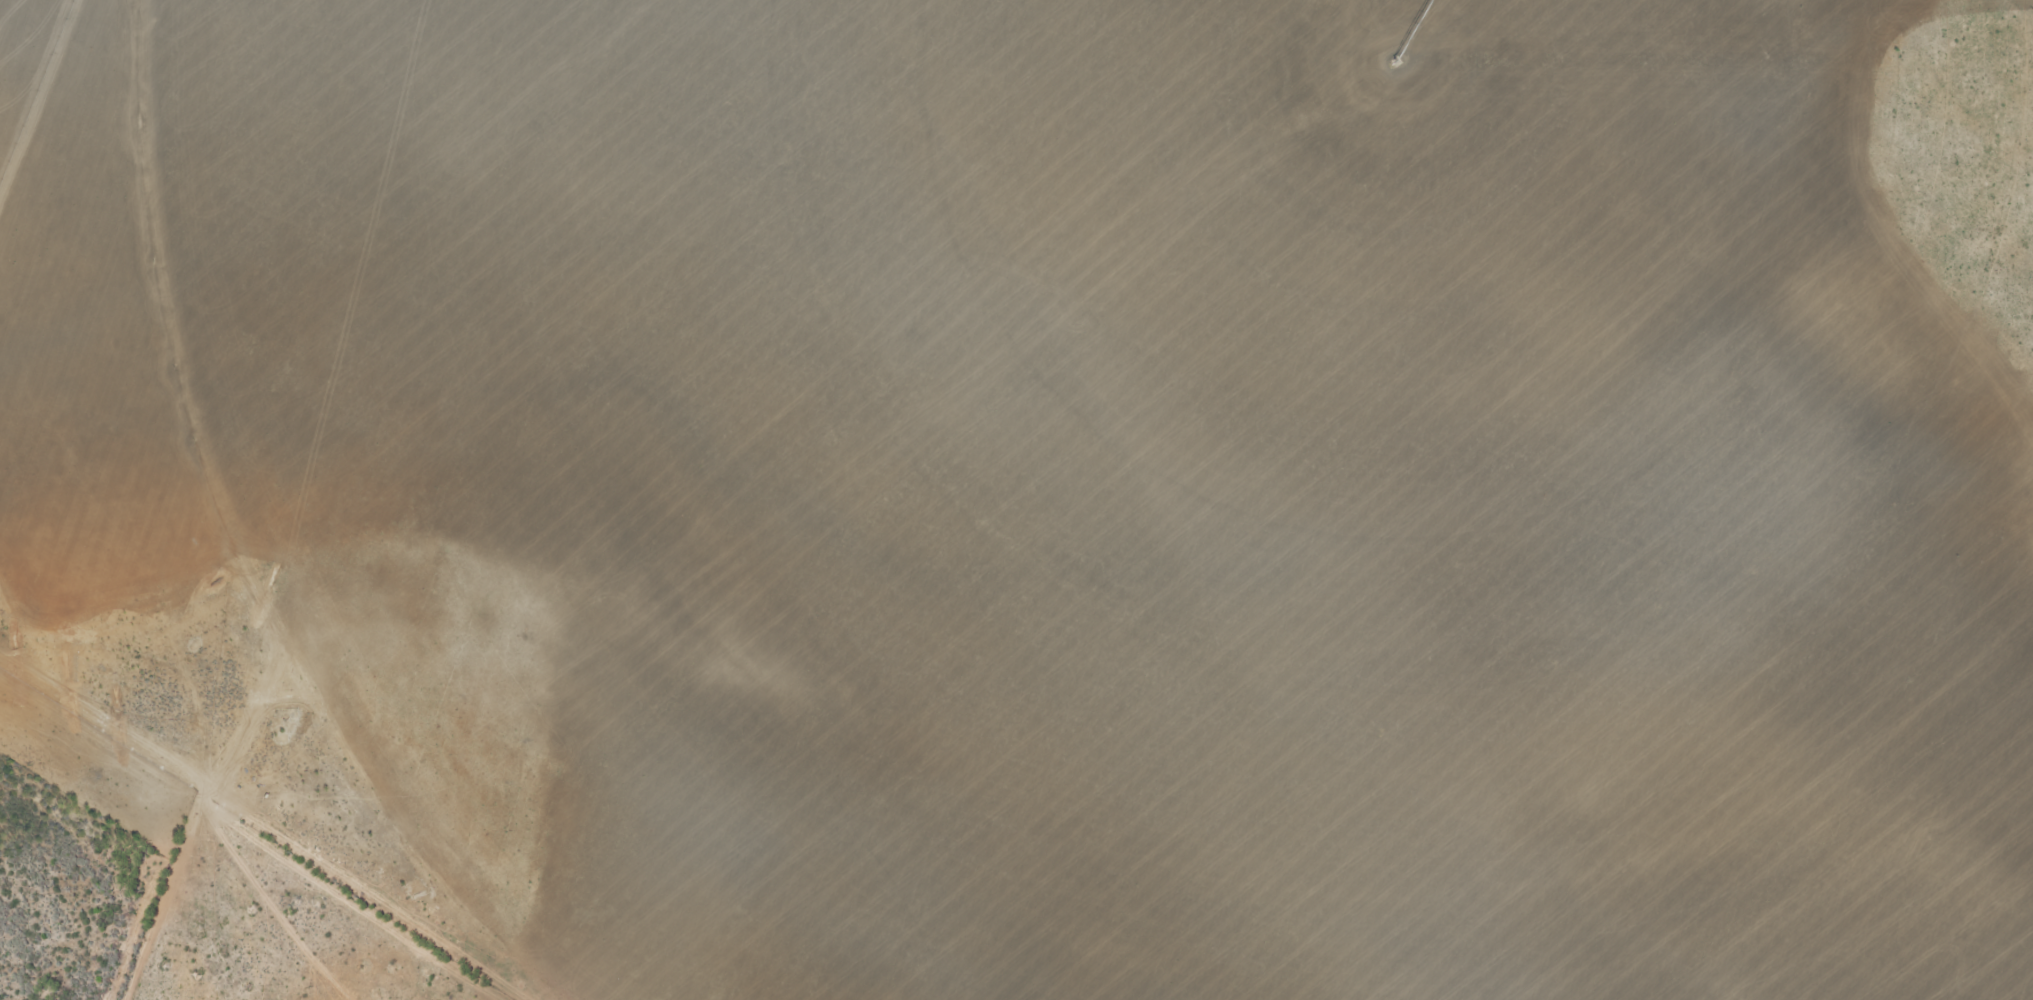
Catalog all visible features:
road: (18, 19)
road: (274, 827)

